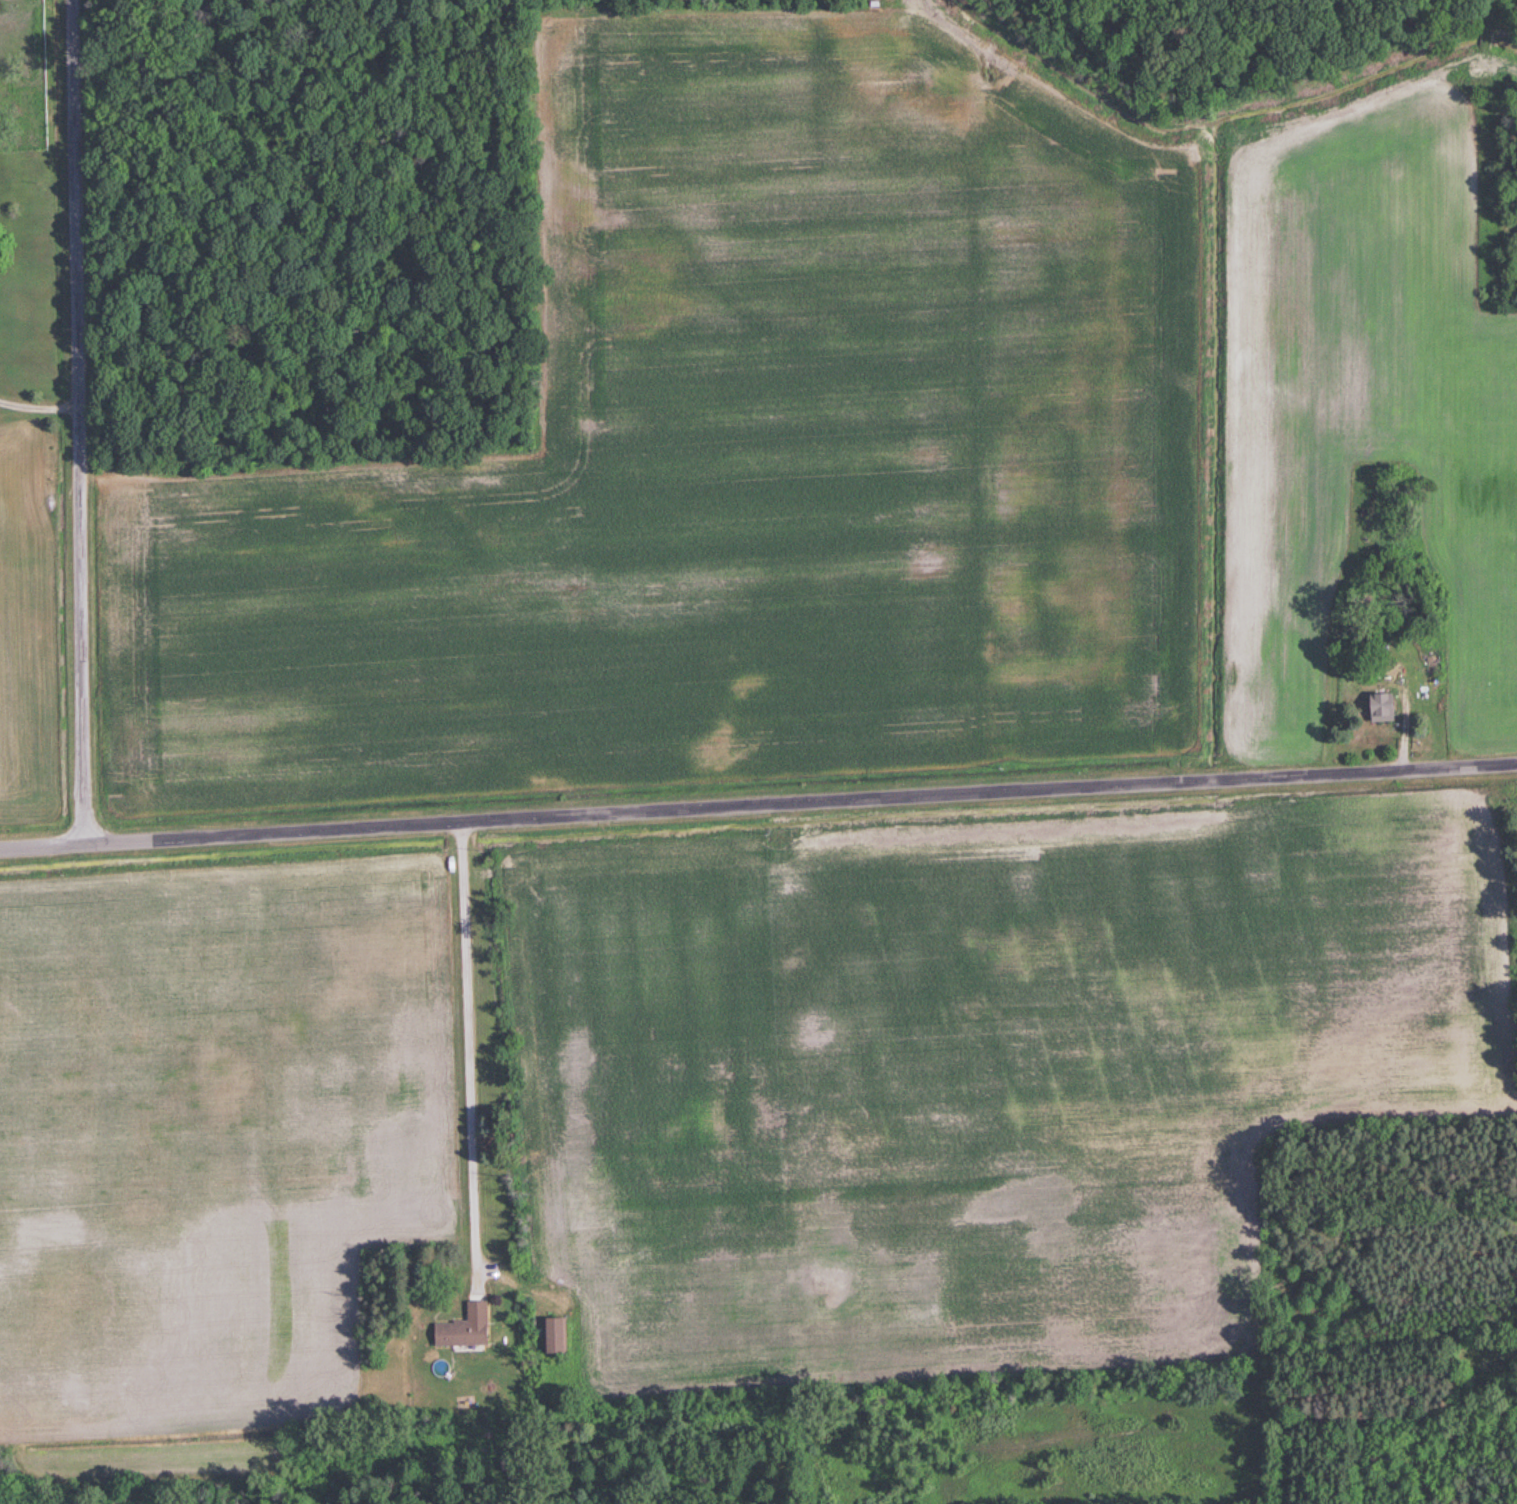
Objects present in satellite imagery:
road: (36, 403)
road: (74, 421)
building: (1375, 709)
road: (758, 805)
road: (470, 1036)
building: (477, 1332)
building: (561, 1334)

